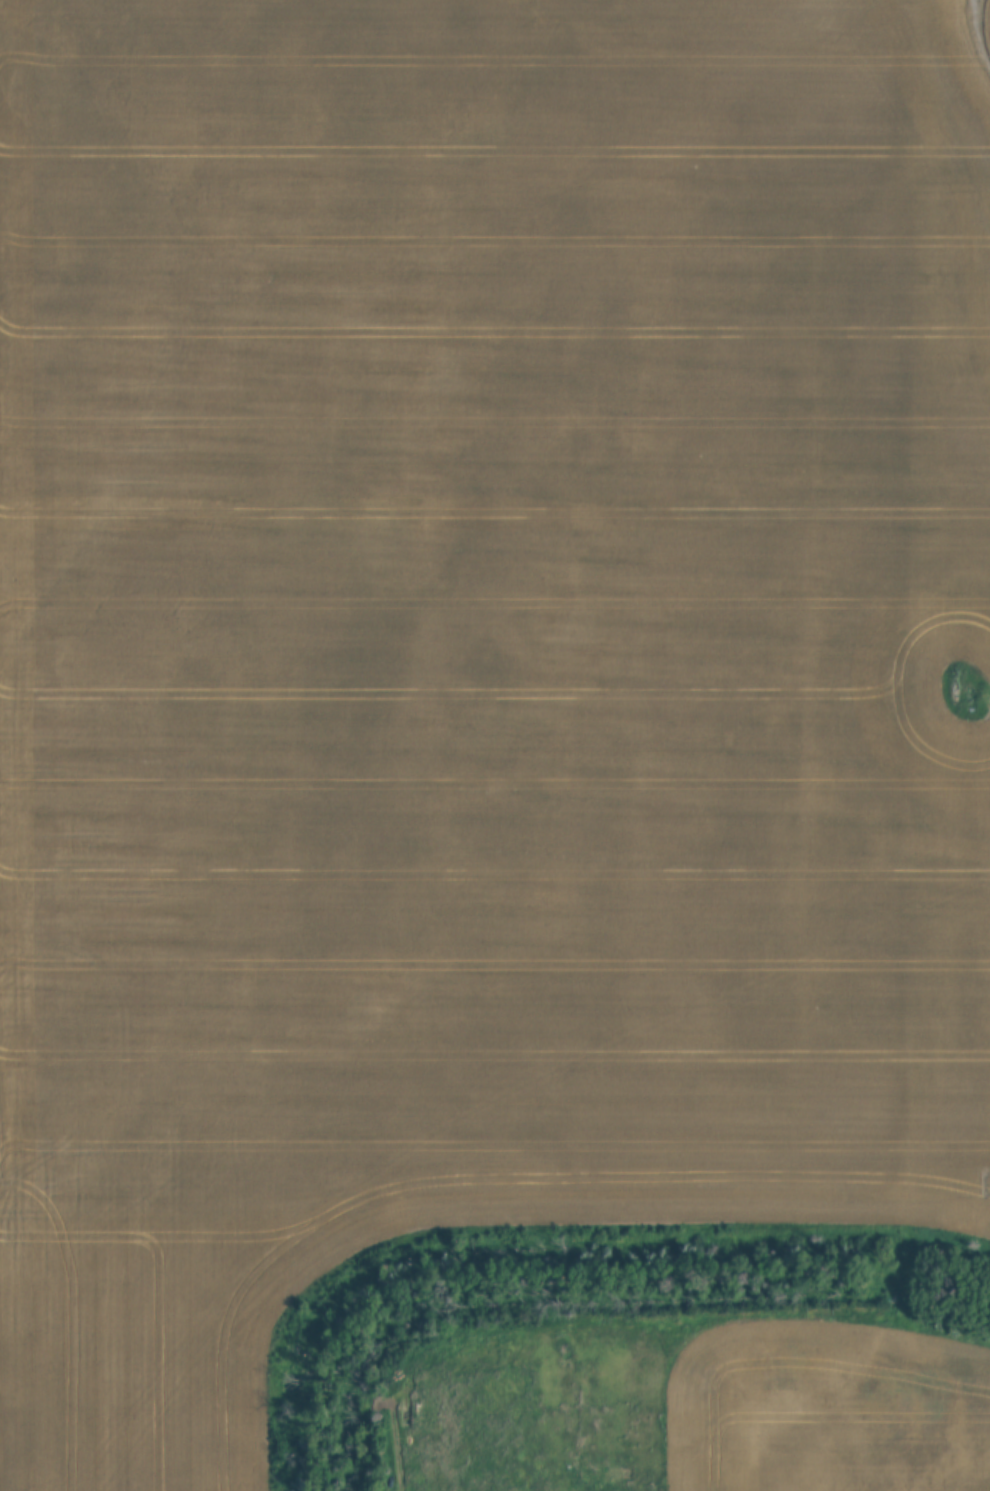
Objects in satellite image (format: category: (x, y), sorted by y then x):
building: (558, 1364)

